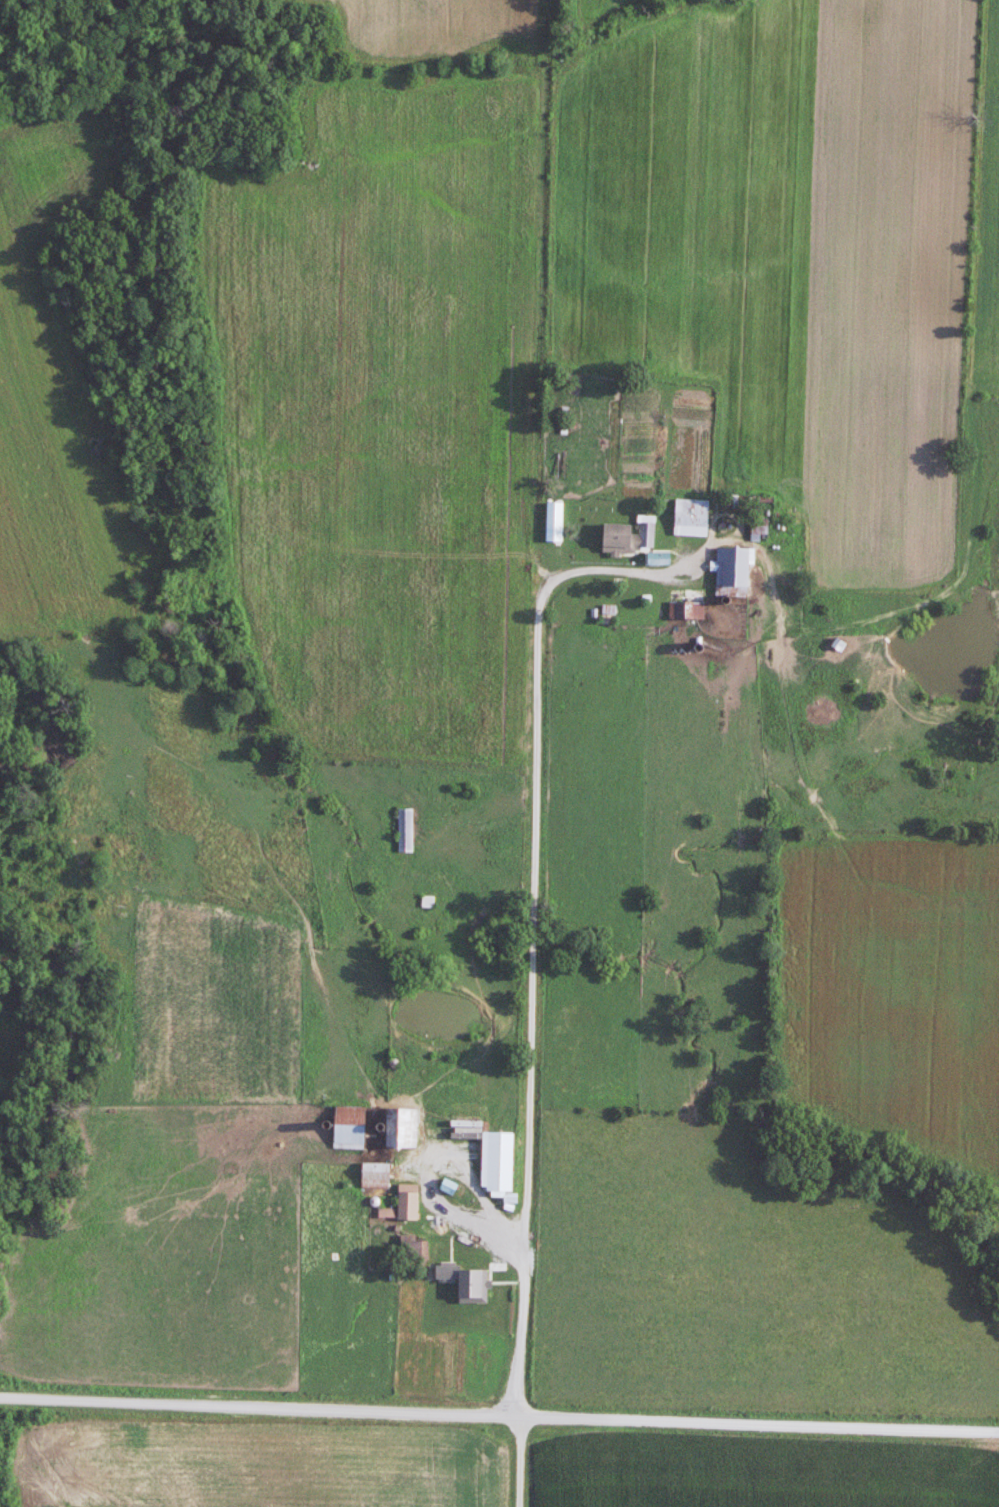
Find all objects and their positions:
building: (690, 520)
building: (759, 528)
building: (628, 536)
building: (658, 558)
building: (731, 568)
road: (635, 572)
building: (686, 611)
road: (539, 753)
building: (405, 830)
building: (432, 1067)
building: (348, 1127)
building: (401, 1127)
building: (496, 1166)
building: (375, 1175)
building: (448, 1185)
road: (474, 1187)
building: (408, 1200)
building: (445, 1244)
building: (403, 1248)
road: (499, 1416)

